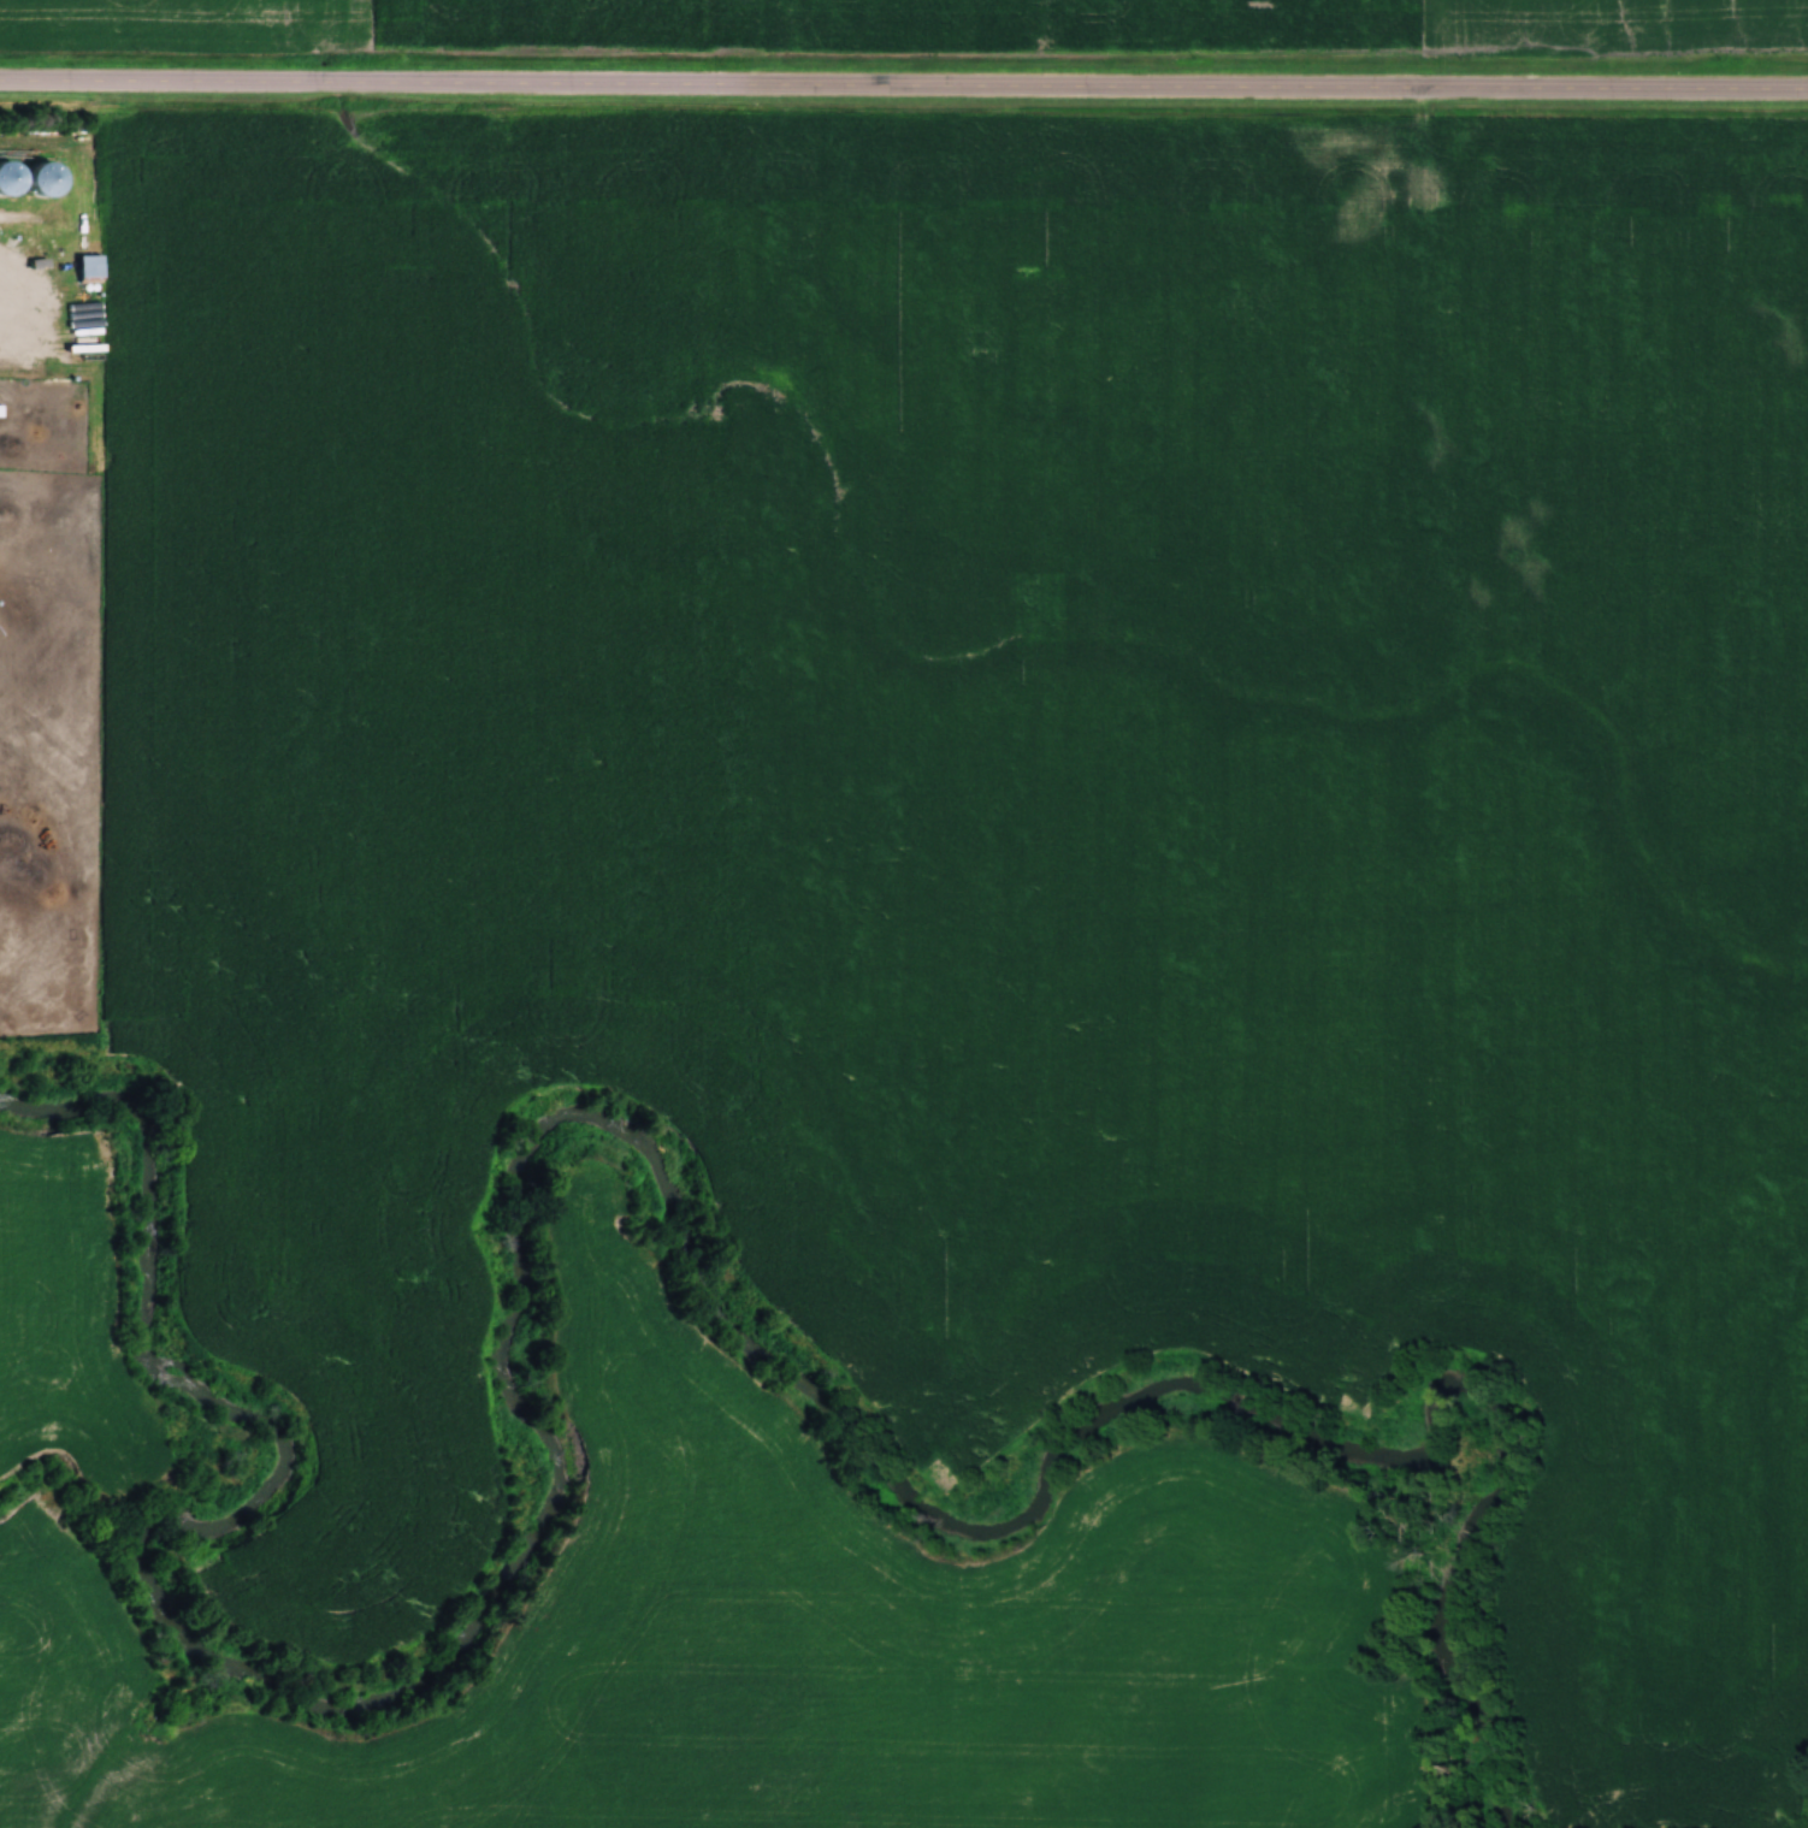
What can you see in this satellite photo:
road: (904, 83)
building: (30, 196)
building: (90, 266)
building: (1, 409)
river: (525, 1141)

